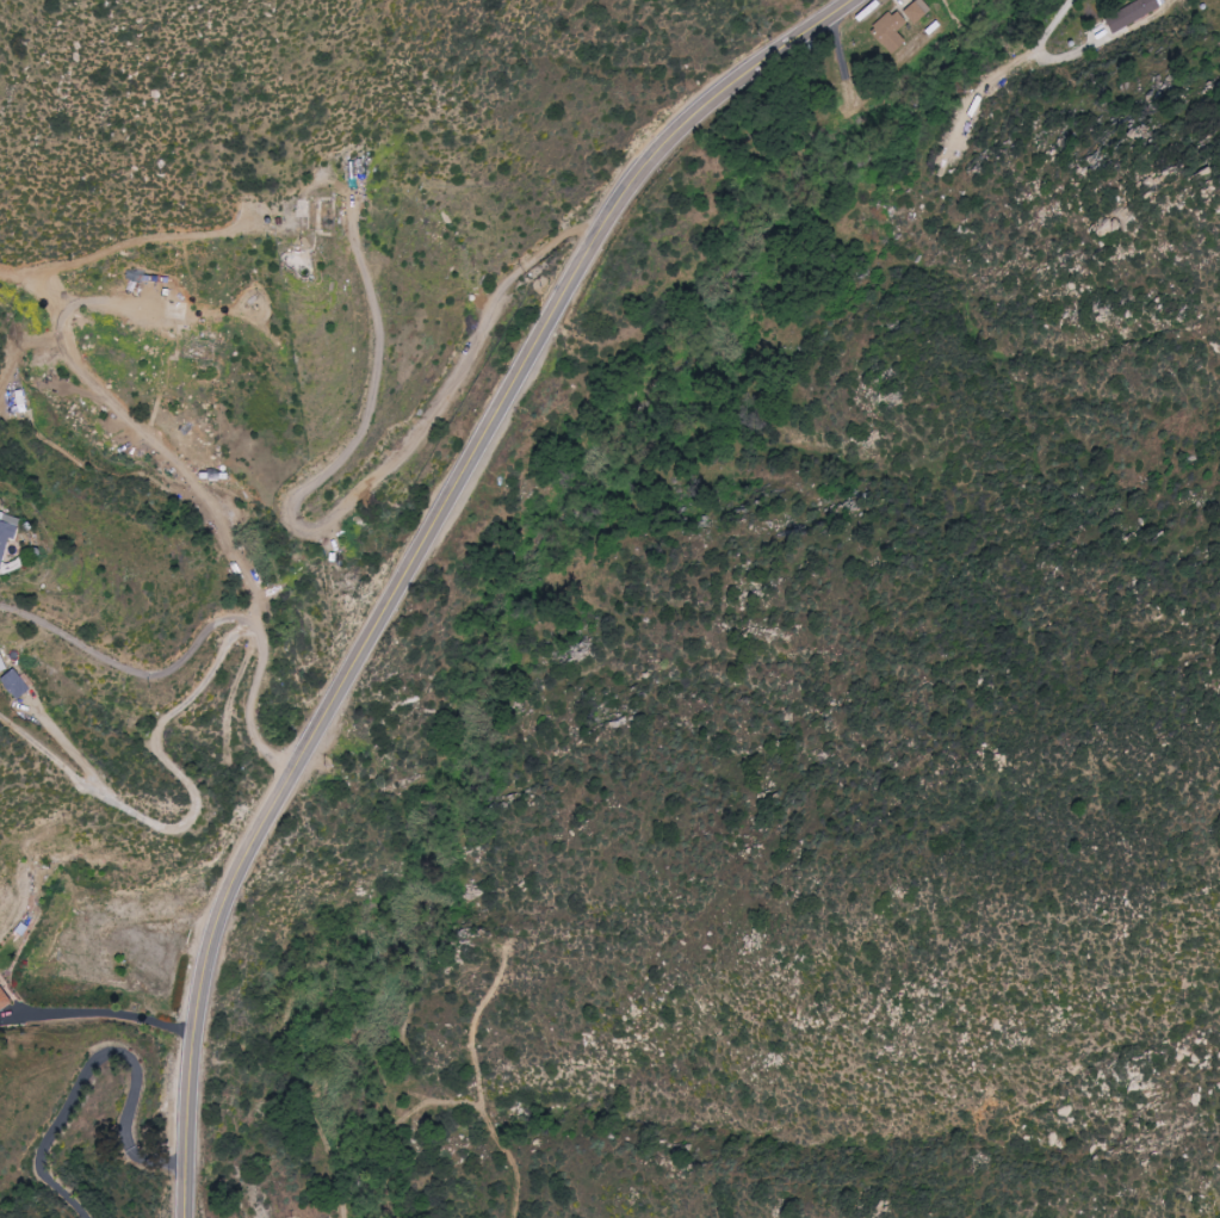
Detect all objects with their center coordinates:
building: (919, 12)
building: (1134, 14)
road: (1045, 26)
building: (893, 32)
road: (134, 421)
road: (434, 423)
building: (7, 533)
road: (421, 559)
road: (128, 668)
building: (17, 685)
road: (252, 706)
road: (48, 753)
road: (202, 802)
building: (5, 1000)
road: (112, 1014)
road: (101, 1059)

